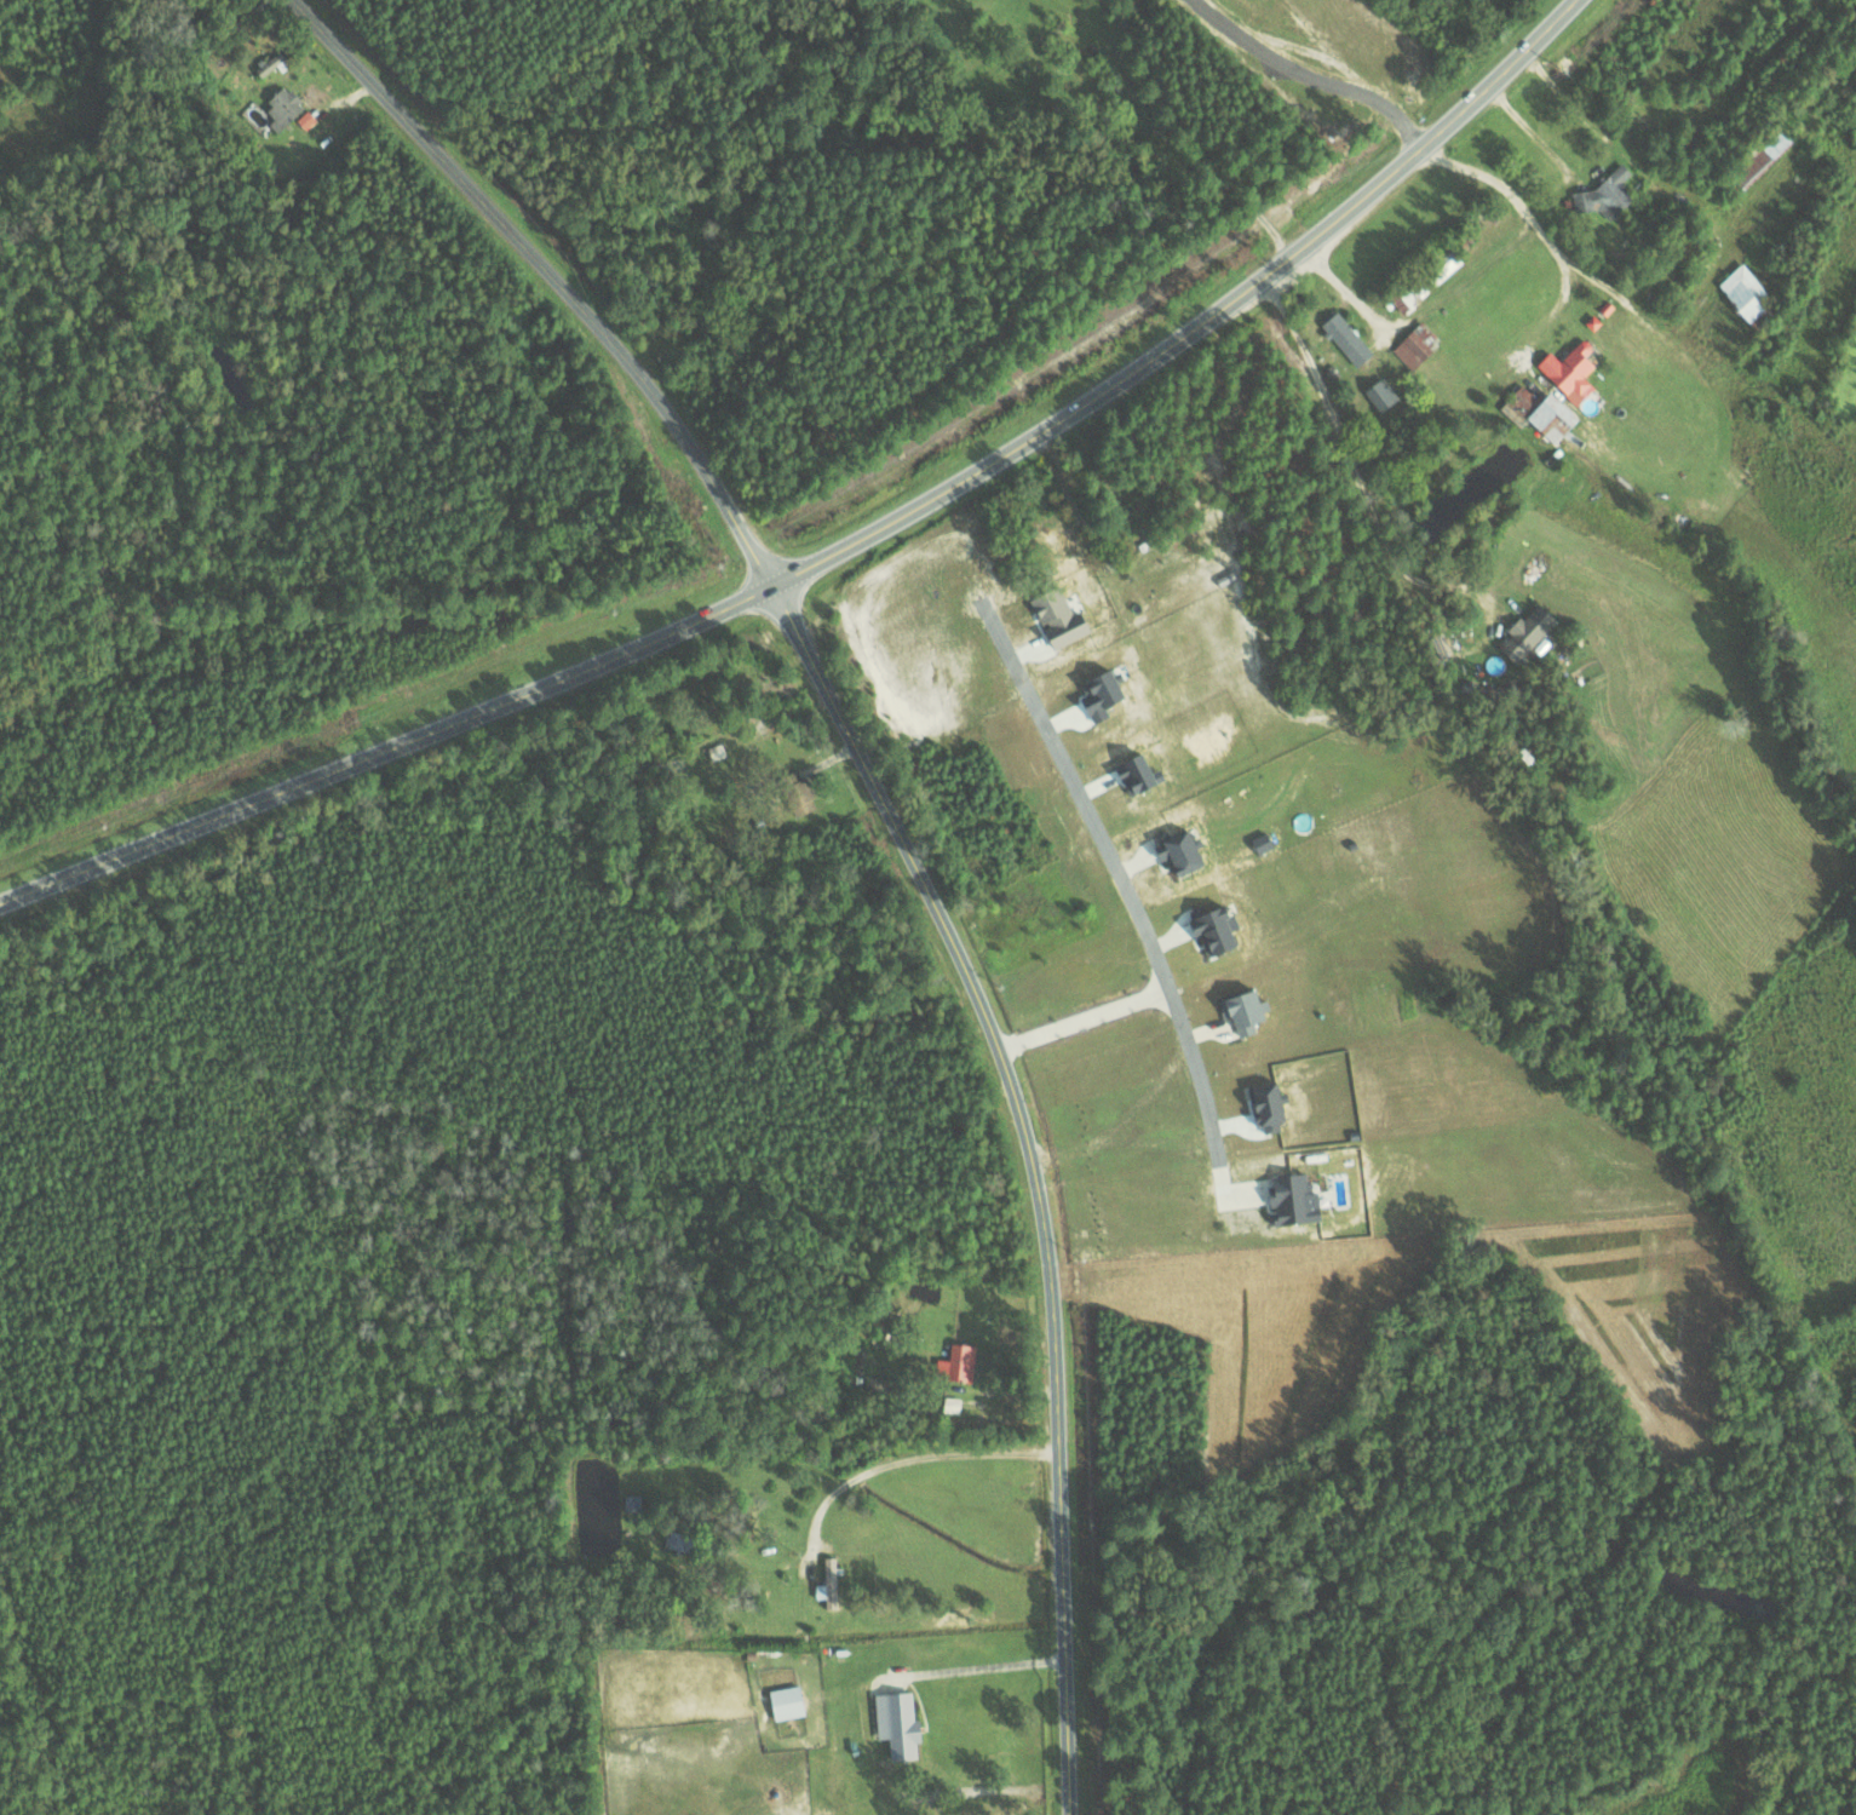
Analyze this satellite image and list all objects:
road: (1321, 56)
building: (282, 109)
building: (1604, 195)
road: (554, 278)
building: (1745, 293)
building: (1345, 338)
building: (1415, 344)
building: (1567, 371)
building: (1378, 394)
building: (1522, 397)
building: (1548, 417)
road: (847, 551)
building: (1058, 611)
building: (1525, 632)
building: (795, 793)
road: (1131, 875)
road: (1212, 1086)
road: (1039, 1173)
building: (958, 1363)
building: (630, 1503)
building: (827, 1583)
building: (785, 1701)
building: (896, 1723)

